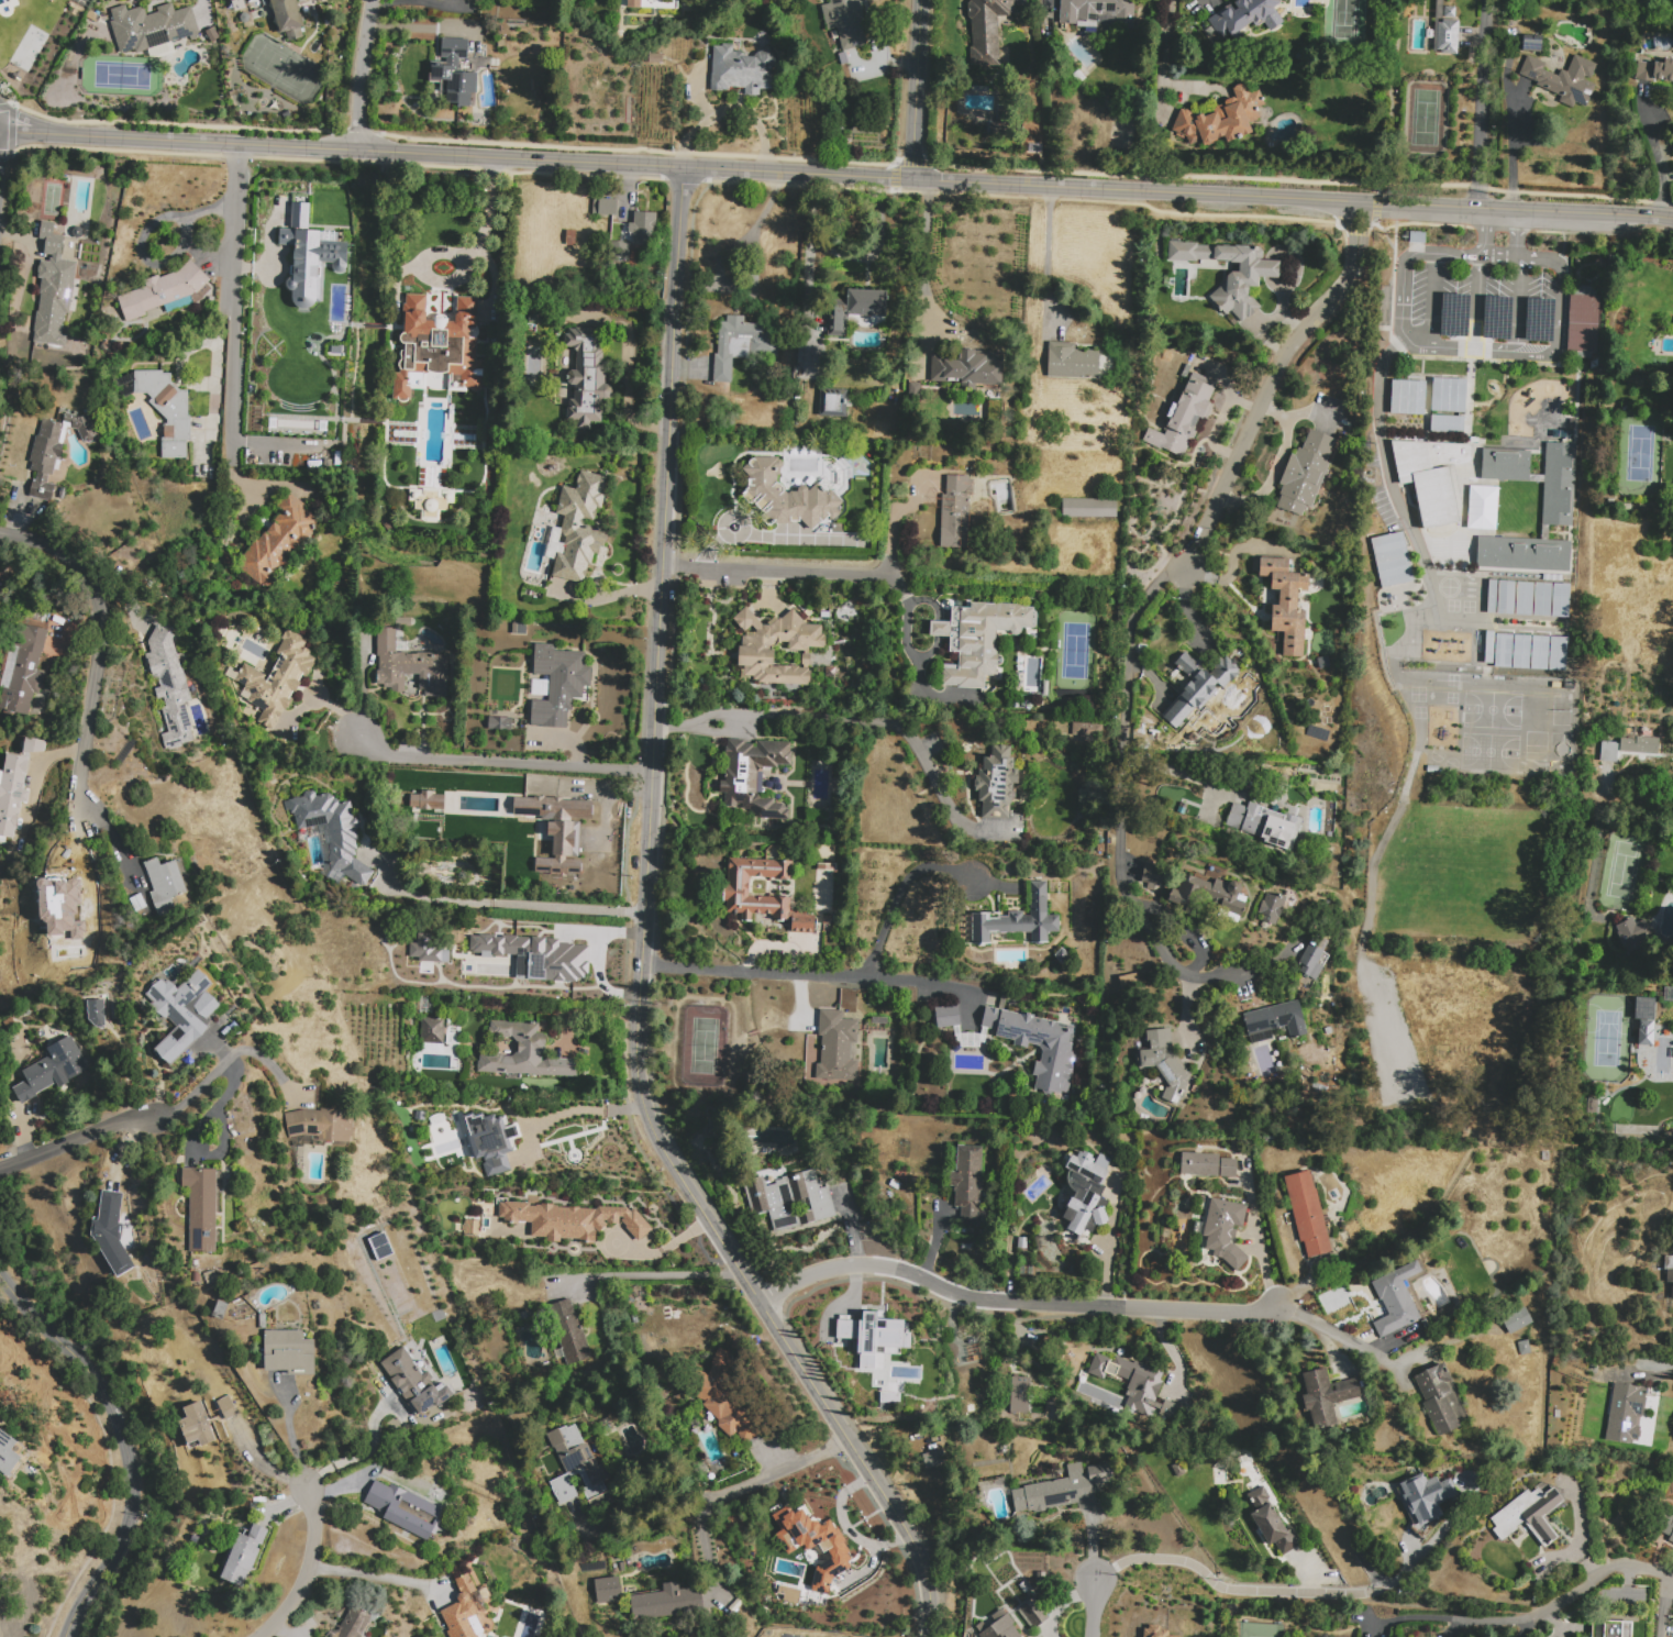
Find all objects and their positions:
building: (51, 0)
building: (649, 3)
building: (1098, 12)
building: (1449, 12)
building: (287, 18)
building: (1245, 18)
building: (846, 22)
building: (152, 27)
building: (986, 30)
building: (1448, 36)
road: (1163, 49)
building: (741, 69)
building: (1654, 70)
building: (453, 74)
road: (363, 75)
building: (1563, 79)
road: (917, 89)
road: (1483, 104)
park: (1423, 117)
building: (1221, 119)
road: (1508, 121)
road: (173, 125)
road: (15, 130)
road: (1660, 148)
road: (913, 163)
road: (705, 168)
road: (894, 175)
road: (1117, 201)
building: (605, 207)
road: (1376, 209)
road: (1508, 209)
road: (1657, 217)
road: (758, 222)
road: (1423, 223)
road: (1370, 225)
building: (643, 228)
road: (1353, 230)
road: (1483, 232)
road: (1516, 233)
road: (1394, 236)
road: (479, 237)
building: (570, 239)
building: (308, 255)
building: (622, 255)
road: (921, 257)
road: (1049, 258)
road: (1538, 259)
road: (250, 267)
building: (1230, 273)
road: (1403, 277)
building: (54, 291)
building: (164, 291)
road: (226, 296)
road: (1432, 299)
road: (1478, 301)
road: (1516, 303)
building: (855, 309)
building: (1584, 324)
building: (763, 346)
road: (1555, 346)
building: (437, 350)
building: (1072, 362)
building: (968, 367)
building: (586, 375)
road: (625, 375)
building: (1448, 395)
building: (1407, 398)
building: (832, 402)
building: (167, 411)
road: (1254, 419)
building: (1184, 420)
building: (1445, 423)
building: (54, 451)
building: (1505, 465)
road: (1275, 467)
building: (1305, 474)
building: (1430, 477)
building: (1559, 485)
building: (786, 496)
building: (431, 502)
building: (1088, 508)
building: (1483, 508)
building: (956, 512)
road: (891, 520)
building: (580, 527)
building: (278, 542)
building: (1524, 554)
building: (1391, 560)
road: (777, 569)
building: (1491, 597)
building: (1506, 597)
building: (1524, 598)
building: (1542, 599)
building: (1560, 600)
building: (1286, 604)
building: (978, 639)
road: (100, 644)
building: (756, 646)
building: (1429, 648)
building: (1448, 649)
building: (1465, 650)
building: (1504, 652)
building: (1521, 652)
building: (1539, 653)
building: (1558, 654)
building: (408, 661)
road: (1394, 664)
building: (22, 670)
building: (277, 679)
building: (558, 684)
building: (1199, 685)
building: (169, 689)
road: (855, 720)
building: (500, 723)
building: (1085, 730)
building: (33, 745)
building: (1639, 745)
building: (1608, 752)
road: (502, 765)
building: (752, 776)
road: (1203, 781)
building: (996, 783)
building: (12, 792)
building: (418, 793)
road: (1628, 799)
building: (1265, 825)
building: (556, 829)
building: (331, 832)
road: (1130, 847)
building: (1151, 880)
building: (166, 883)
road: (900, 891)
building: (745, 896)
building: (1182, 896)
building: (76, 905)
road: (518, 905)
building: (1278, 908)
building: (1018, 920)
building: (1632, 933)
road: (644, 941)
building: (535, 955)
building: (436, 956)
building: (1311, 962)
road: (809, 973)
road: (541, 994)
building: (1642, 1008)
road: (1185, 1009)
building: (181, 1011)
building: (96, 1013)
building: (946, 1017)
building: (989, 1018)
building: (1276, 1019)
building: (432, 1031)
building: (1644, 1032)
park: (1606, 1038)
building: (974, 1040)
building: (836, 1047)
building: (1043, 1050)
building: (524, 1053)
building: (1165, 1063)
road: (219, 1065)
building: (52, 1070)
road: (588, 1109)
building: (321, 1124)
road: (101, 1129)
building: (477, 1133)
road: (1489, 1138)
road: (26, 1158)
building: (1199, 1164)
building: (1228, 1168)
building: (967, 1183)
building: (1082, 1190)
building: (788, 1198)
building: (201, 1208)
building: (1307, 1214)
building: (1099, 1217)
building: (570, 1220)
building: (112, 1230)
building: (1223, 1230)
building: (1022, 1242)
building: (380, 1247)
road: (1401, 1251)
road: (1265, 1271)
building: (1669, 1273)
road: (647, 1275)
building: (196, 1277)
building: (210, 1277)
building: (1396, 1301)
road: (1011, 1302)
building: (1517, 1320)
road: (1547, 1326)
building: (569, 1331)
building: (872, 1335)
road: (1337, 1335)
road: (1331, 1347)
building: (1524, 1348)
road: (1172, 1351)
building: (289, 1352)
road: (1663, 1373)
building: (413, 1383)
building: (1137, 1385)
building: (1018, 1394)
building: (888, 1397)
building: (1437, 1397)
building: (732, 1398)
building: (1326, 1400)
building: (1625, 1415)
building: (206, 1420)
road: (288, 1435)
road: (123, 1445)
road: (362, 1453)
building: (8, 1455)
building: (932, 1458)
road: (261, 1463)
building: (576, 1467)
road: (334, 1487)
building: (1063, 1490)
road: (716, 1495)
building: (1427, 1496)
road: (281, 1504)
building: (391, 1511)
building: (1528, 1515)
road: (108, 1518)
building: (1271, 1522)
building: (1668, 1528)
road: (709, 1545)
building: (833, 1552)
building: (243, 1557)
road: (1641, 1567)
road: (310, 1570)
road: (368, 1575)
building: (607, 1590)
road: (1252, 1590)
road: (1571, 1593)
road: (1307, 1599)
building: (666, 1603)
road: (1093, 1606)
road: (1662, 1607)
building: (461, 1610)
building: (1033, 1613)
road: (1452, 1618)
building: (353, 1623)
building: (998, 1626)
building: (1609, 1628)
road: (282, 1632)
building: (1155, 1632)

